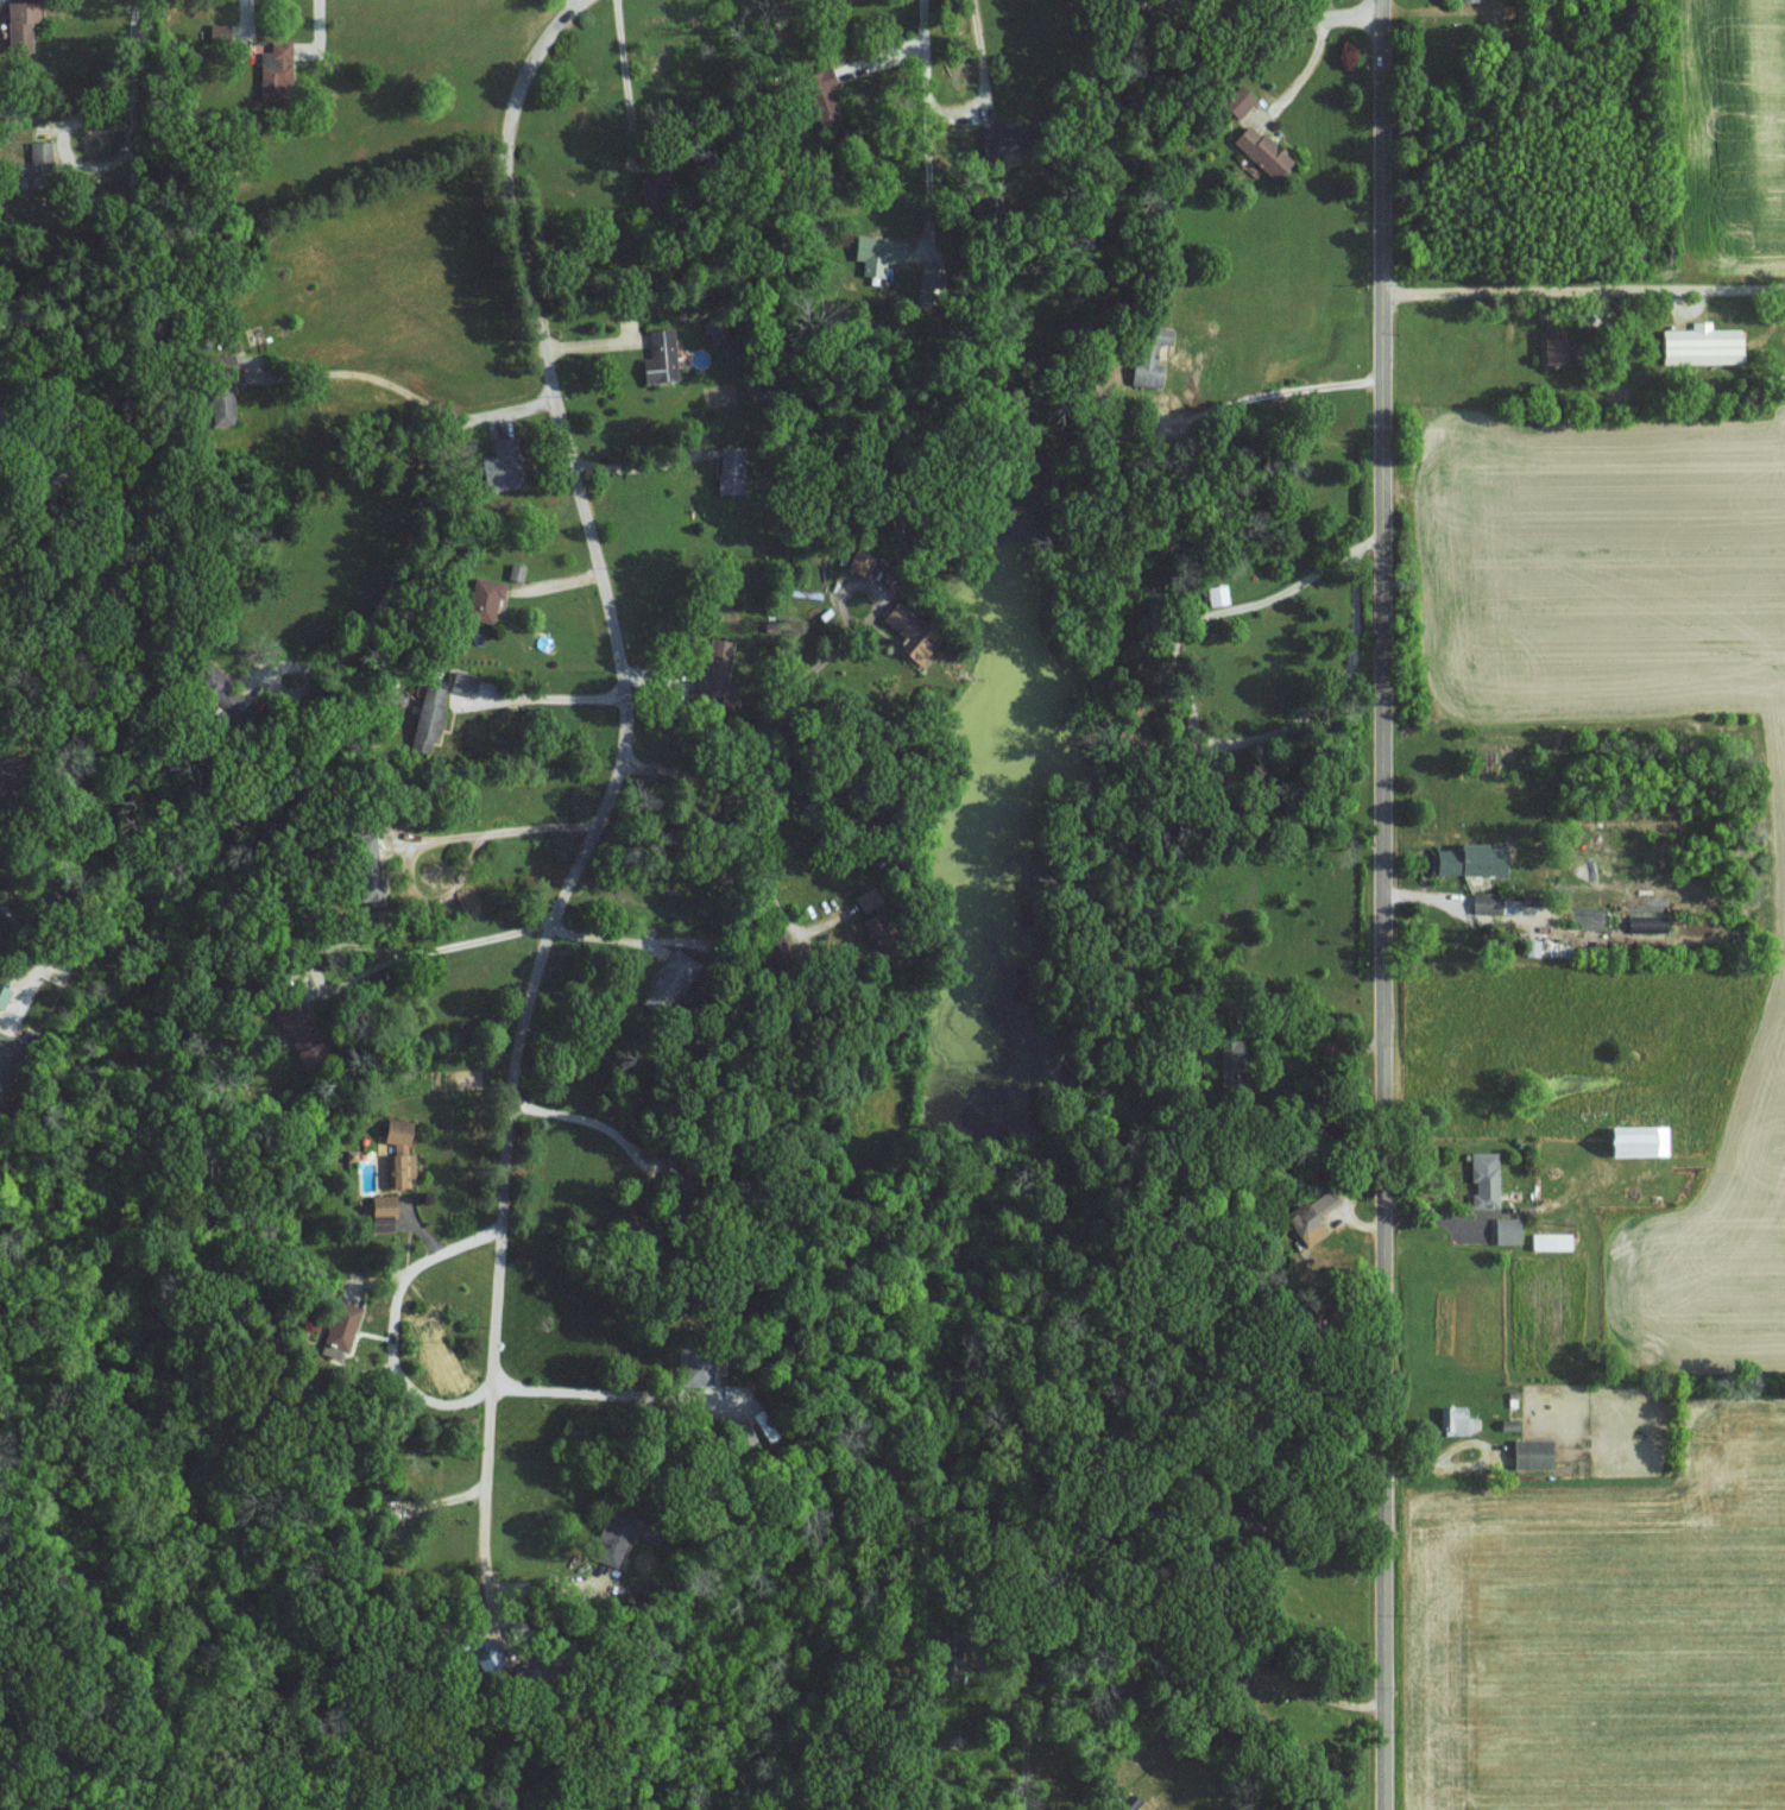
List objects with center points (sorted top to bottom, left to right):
road: (1267, 17)
building: (17, 23)
building: (216, 32)
building: (273, 68)
road: (1306, 71)
building: (819, 94)
building: (1236, 101)
road: (928, 127)
building: (37, 150)
building: (1259, 150)
road: (633, 207)
building: (876, 253)
road: (1585, 291)
building: (1550, 343)
building: (1698, 345)
building: (657, 357)
building: (1142, 372)
road: (1294, 385)
building: (220, 389)
road: (404, 389)
building: (498, 465)
building: (728, 471)
building: (856, 563)
building: (515, 572)
building: (1215, 592)
building: (907, 635)
building: (713, 668)
building: (461, 682)
building: (215, 688)
road: (535, 698)
building: (425, 719)
road: (1194, 724)
road: (622, 725)
building: (1468, 859)
building: (366, 864)
building: (865, 898)
road: (1386, 904)
building: (668, 979)
building: (2, 996)
building: (291, 1020)
building: (7, 1053)
road: (579, 1118)
building: (1635, 1139)
building: (398, 1150)
building: (1483, 1178)
building: (380, 1210)
building: (1311, 1217)
building: (1505, 1229)
building: (341, 1324)
road: (393, 1324)
building: (693, 1367)
road: (616, 1395)
building: (740, 1433)
building: (1529, 1452)
building: (614, 1537)
road: (491, 1554)
building: (487, 1656)

